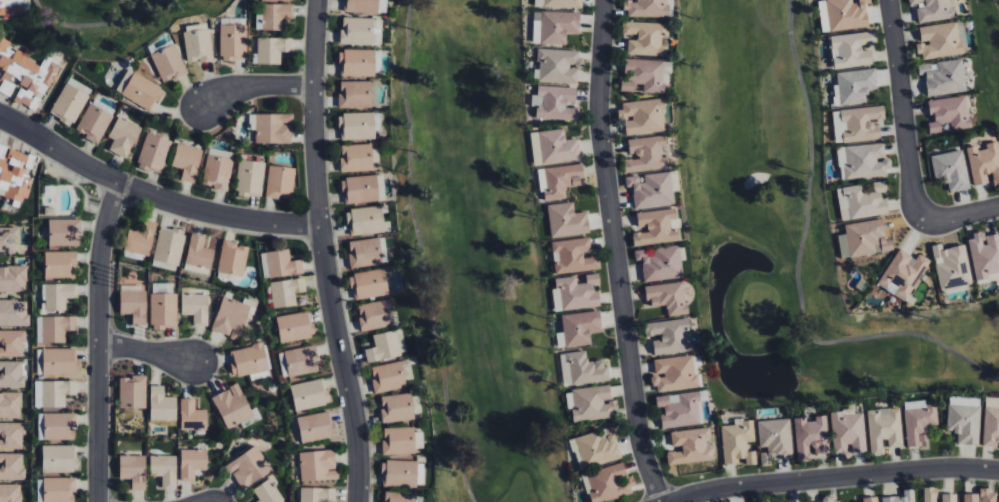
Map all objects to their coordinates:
building: (558, 3)
road: (996, 5)
building: (365, 6)
building: (13, 8)
building: (646, 8)
building: (934, 9)
building: (842, 14)
building: (275, 15)
park: (108, 23)
road: (96, 26)
building: (555, 26)
building: (361, 31)
building: (645, 38)
building: (939, 40)
building: (233, 41)
building: (197, 42)
building: (272, 49)
building: (852, 49)
building: (357, 62)
building: (168, 63)
building: (557, 66)
building: (643, 75)
building: (25, 76)
building: (943, 77)
road: (255, 86)
building: (854, 86)
building: (142, 91)
building: (355, 94)
building: (70, 101)
building: (555, 103)
road: (903, 110)
building: (949, 113)
building: (642, 116)
building: (96, 118)
building: (858, 124)
building: (358, 125)
building: (271, 127)
building: (123, 136)
building: (554, 147)
building: (154, 153)
building: (646, 154)
building: (356, 157)
building: (862, 160)
building: (187, 162)
building: (984, 164)
building: (218, 170)
building: (951, 170)
building: (15, 173)
building: (250, 178)
building: (559, 180)
building: (280, 182)
building: (360, 189)
building: (651, 190)
road: (152, 195)
building: (863, 201)
road: (961, 216)
building: (566, 220)
building: (366, 221)
building: (656, 227)
park: (788, 231)
building: (64, 232)
building: (141, 238)
building: (9, 239)
building: (864, 239)
building: (169, 248)
road: (323, 252)
building: (365, 252)
road: (423, 252)
park: (474, 252)
road: (615, 252)
building: (198, 254)
building: (573, 256)
building: (985, 256)
building: (232, 258)
building: (660, 262)
building: (60, 264)
building: (279, 264)
building: (952, 267)
road: (798, 269)
building: (903, 274)
building: (13, 278)
building: (369, 284)
building: (286, 291)
building: (576, 293)
building: (58, 295)
building: (668, 297)
building: (133, 302)
building: (163, 306)
building: (195, 307)
building: (14, 312)
building: (231, 318)
building: (294, 327)
building: (56, 328)
building: (578, 328)
building: (670, 336)
road: (99, 341)
building: (12, 343)
building: (385, 346)
road: (147, 352)
building: (582, 369)
building: (674, 373)
building: (11, 374)
building: (390, 377)
building: (132, 391)
building: (53, 393)
building: (309, 394)
building: (591, 403)
building: (10, 405)
building: (162, 405)
building: (232, 406)
building: (397, 407)
building: (679, 409)
building: (192, 415)
building: (919, 420)
building: (991, 421)
building: (964, 422)
building: (59, 426)
building: (314, 427)
building: (884, 428)
building: (848, 432)
building: (11, 436)
building: (775, 437)
building: (811, 437)
building: (419, 439)
building: (398, 440)
building: (738, 441)
building: (690, 446)
building: (595, 448)
building: (59, 458)
building: (192, 463)
building: (318, 465)
building: (11, 466)
building: (248, 467)
building: (164, 469)
building: (133, 470)
building: (399, 473)
road: (832, 478)
building: (608, 483)
building: (59, 489)
building: (268, 492)
building: (10, 493)
building: (316, 494)
building: (930, 494)
building: (981, 496)
building: (398, 497)
building: (902, 497)
building: (949, 497)
building: (868, 500)
building: (823, 501)

